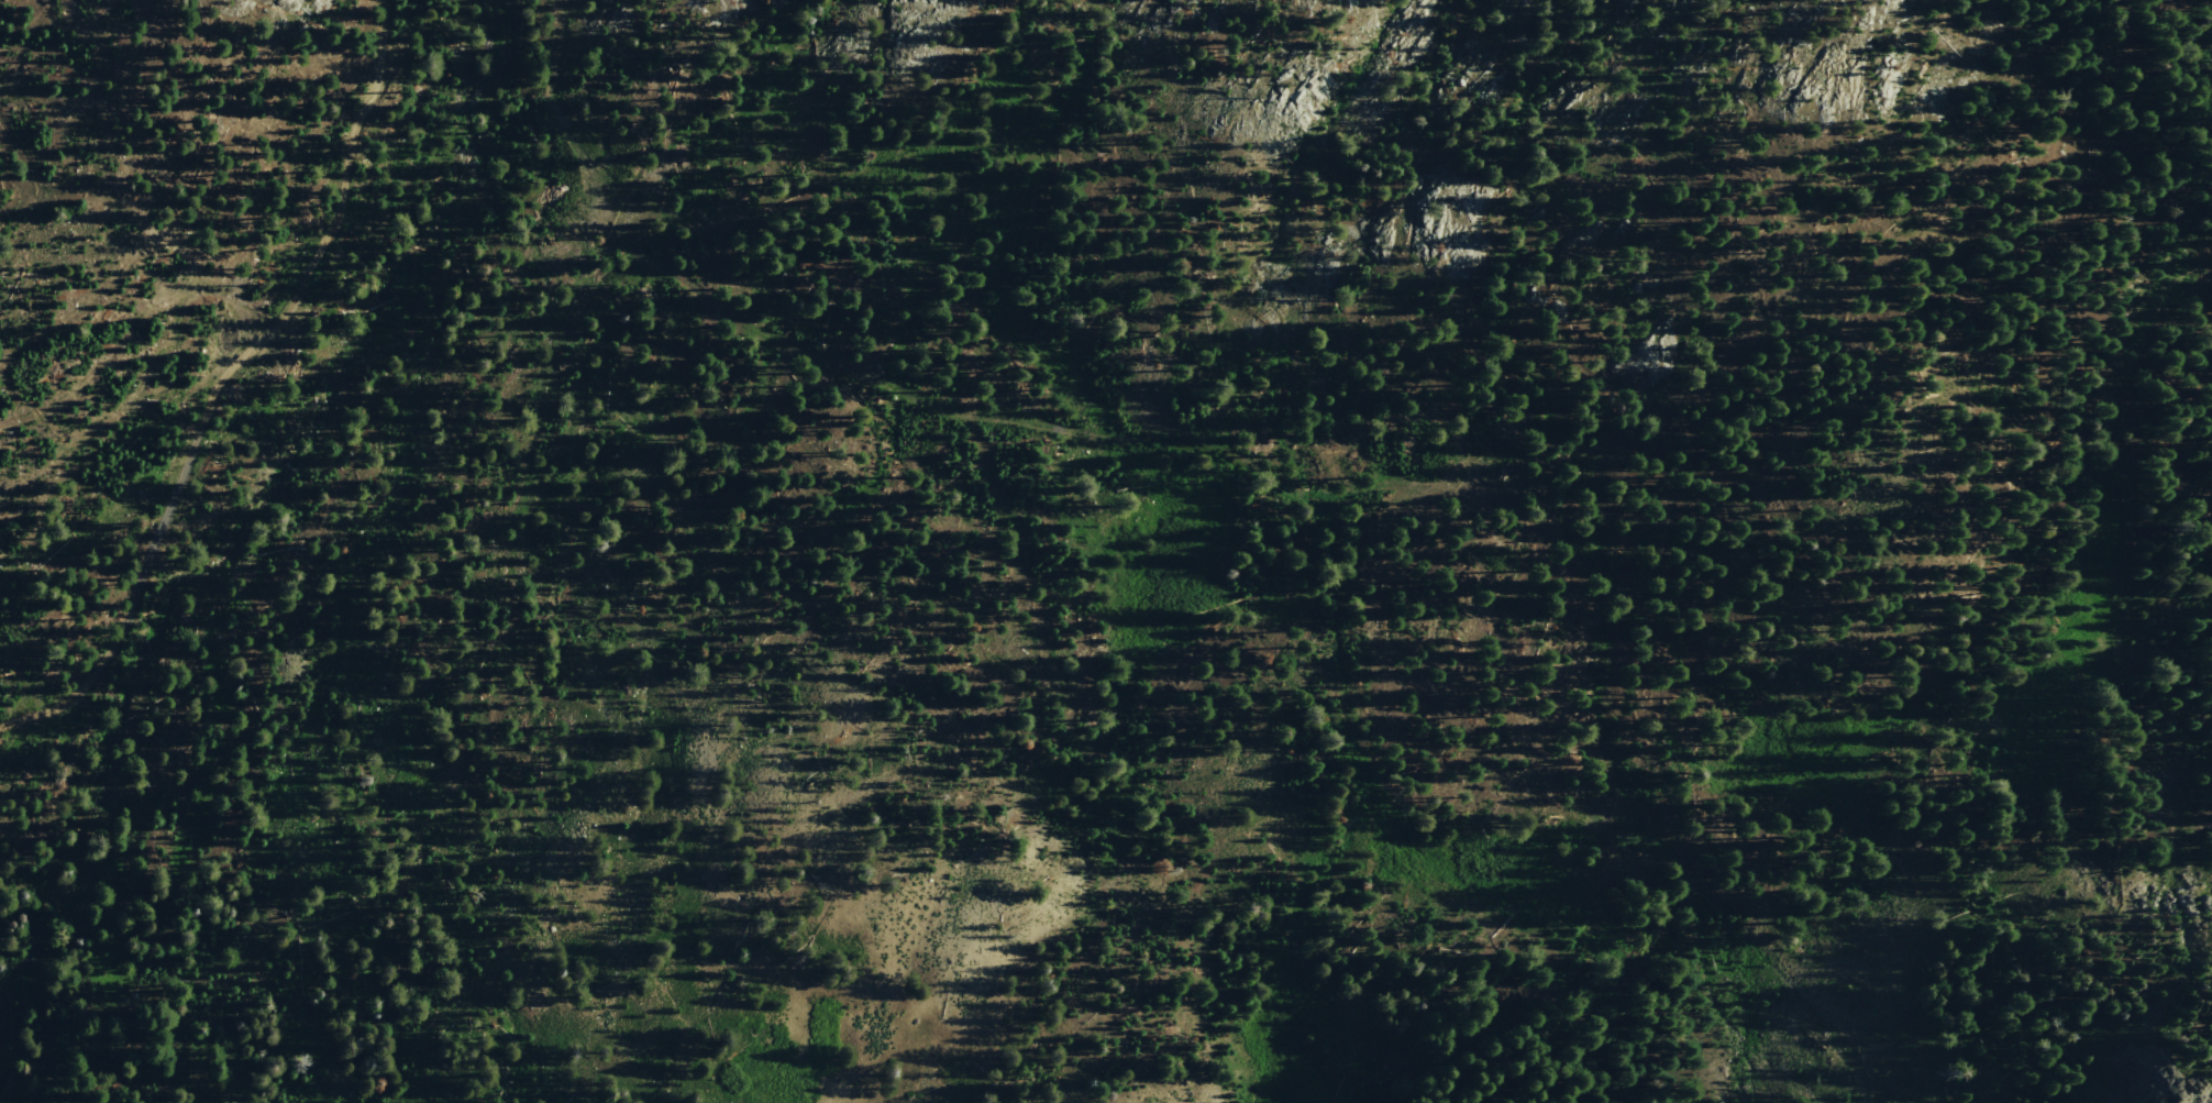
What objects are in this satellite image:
road: (220, 383)
road: (905, 391)

